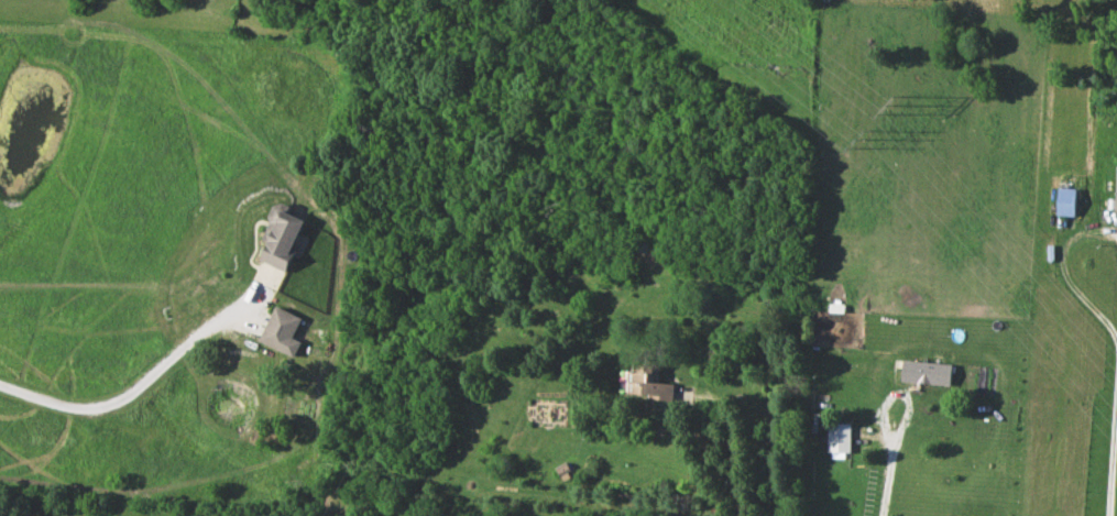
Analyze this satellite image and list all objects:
power tower: (894, 105)
power tower: (863, 139)
building: (1067, 202)
building: (283, 238)
building: (283, 332)
building: (929, 373)
building: (649, 383)
road: (135, 388)
road: (900, 389)
road: (707, 402)
building: (841, 438)
road: (1113, 443)
road: (892, 476)
road: (748, 513)

